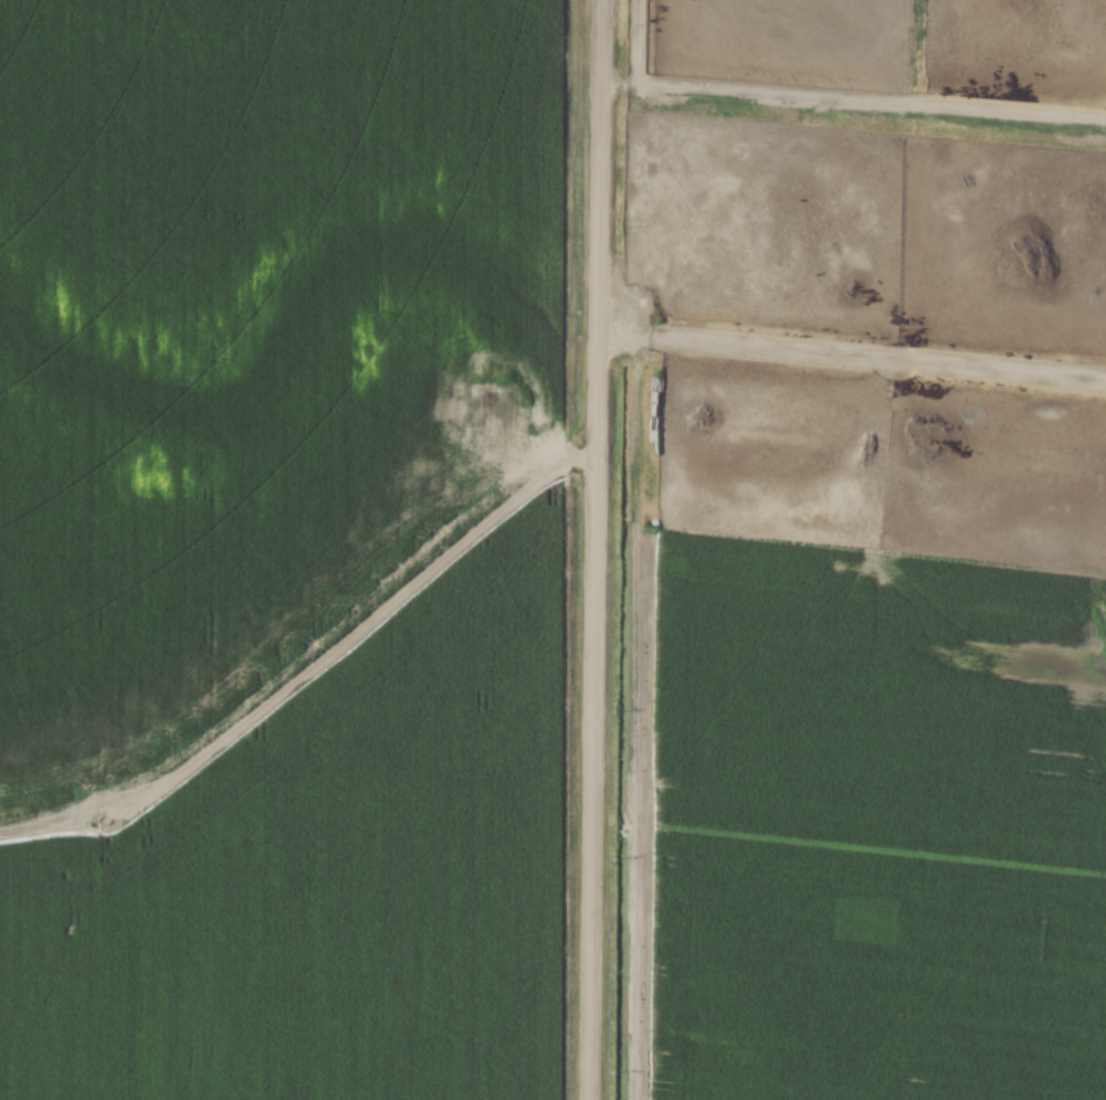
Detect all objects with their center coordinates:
road: (587, 550)

